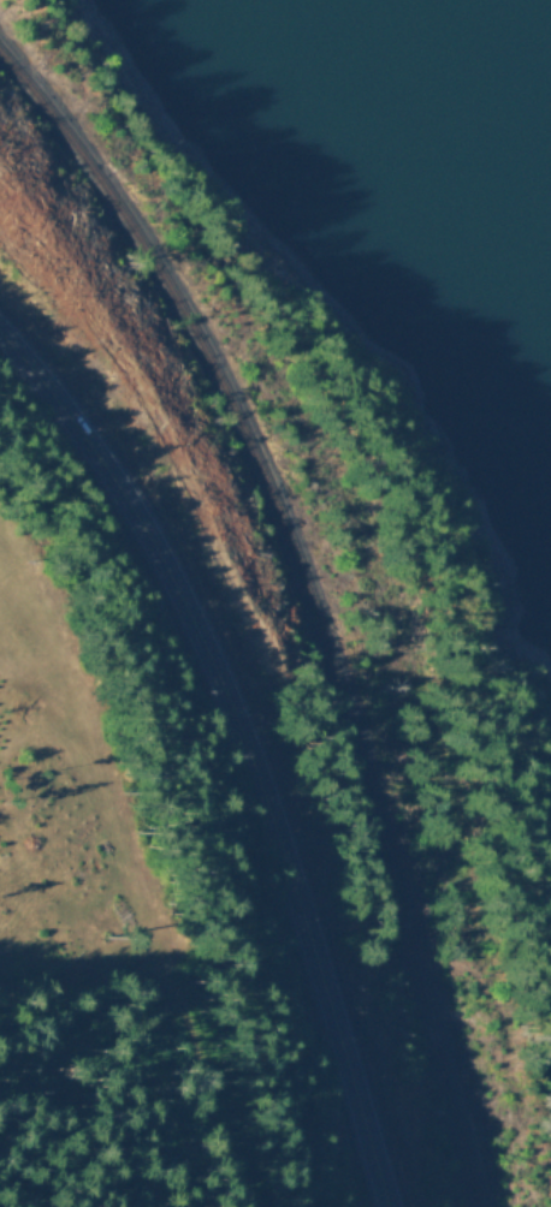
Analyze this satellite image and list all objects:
railway: (316, 596)
road: (242, 744)

